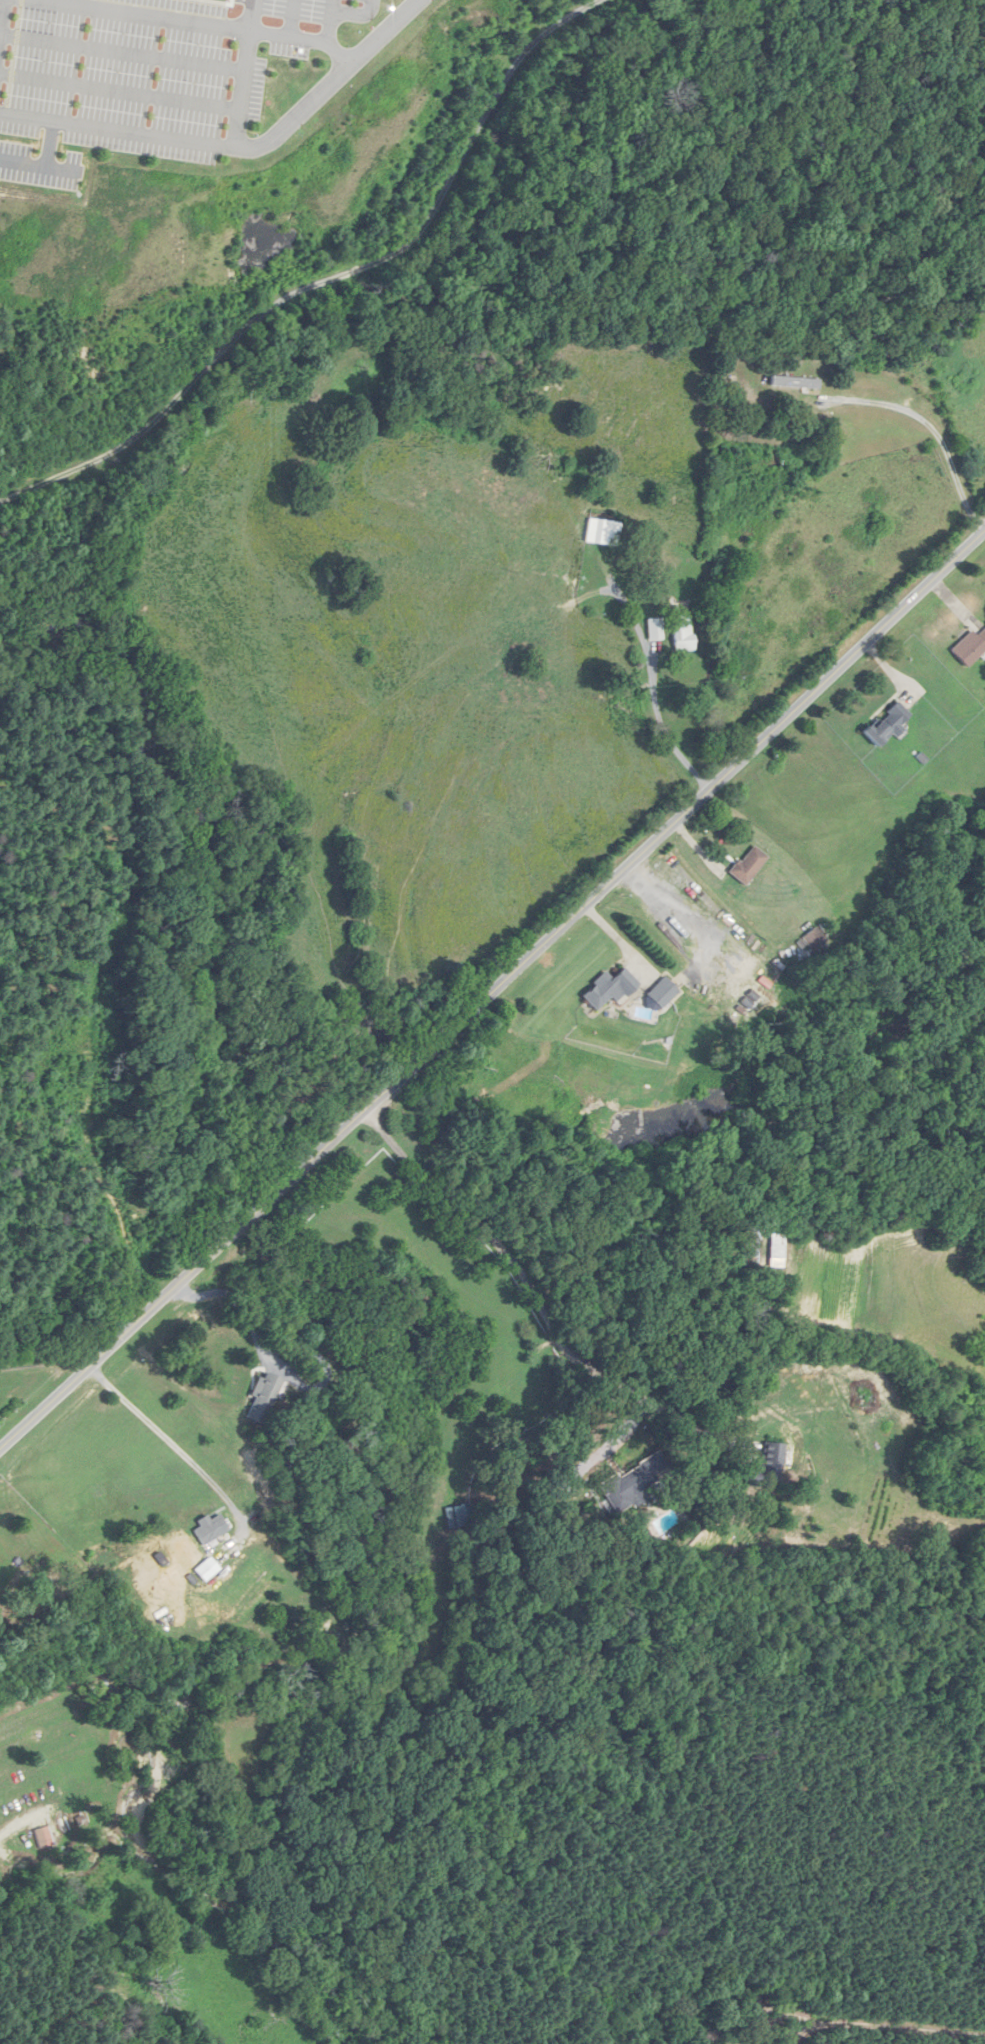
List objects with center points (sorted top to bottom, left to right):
road: (236, 147)
building: (795, 382)
road: (932, 425)
building: (603, 532)
building: (655, 629)
building: (683, 633)
building: (969, 647)
building: (886, 724)
building: (748, 865)
road: (687, 921)
road: (621, 941)
building: (609, 988)
road: (491, 991)
building: (661, 992)
road: (245, 1222)
building: (751, 1243)
building: (777, 1244)
road: (236, 1295)
road: (547, 1300)
building: (263, 1399)
road: (173, 1441)
building: (769, 1467)
building: (625, 1490)
building: (209, 1529)
building: (206, 1570)
building: (43, 1836)
road: (18, 1838)

